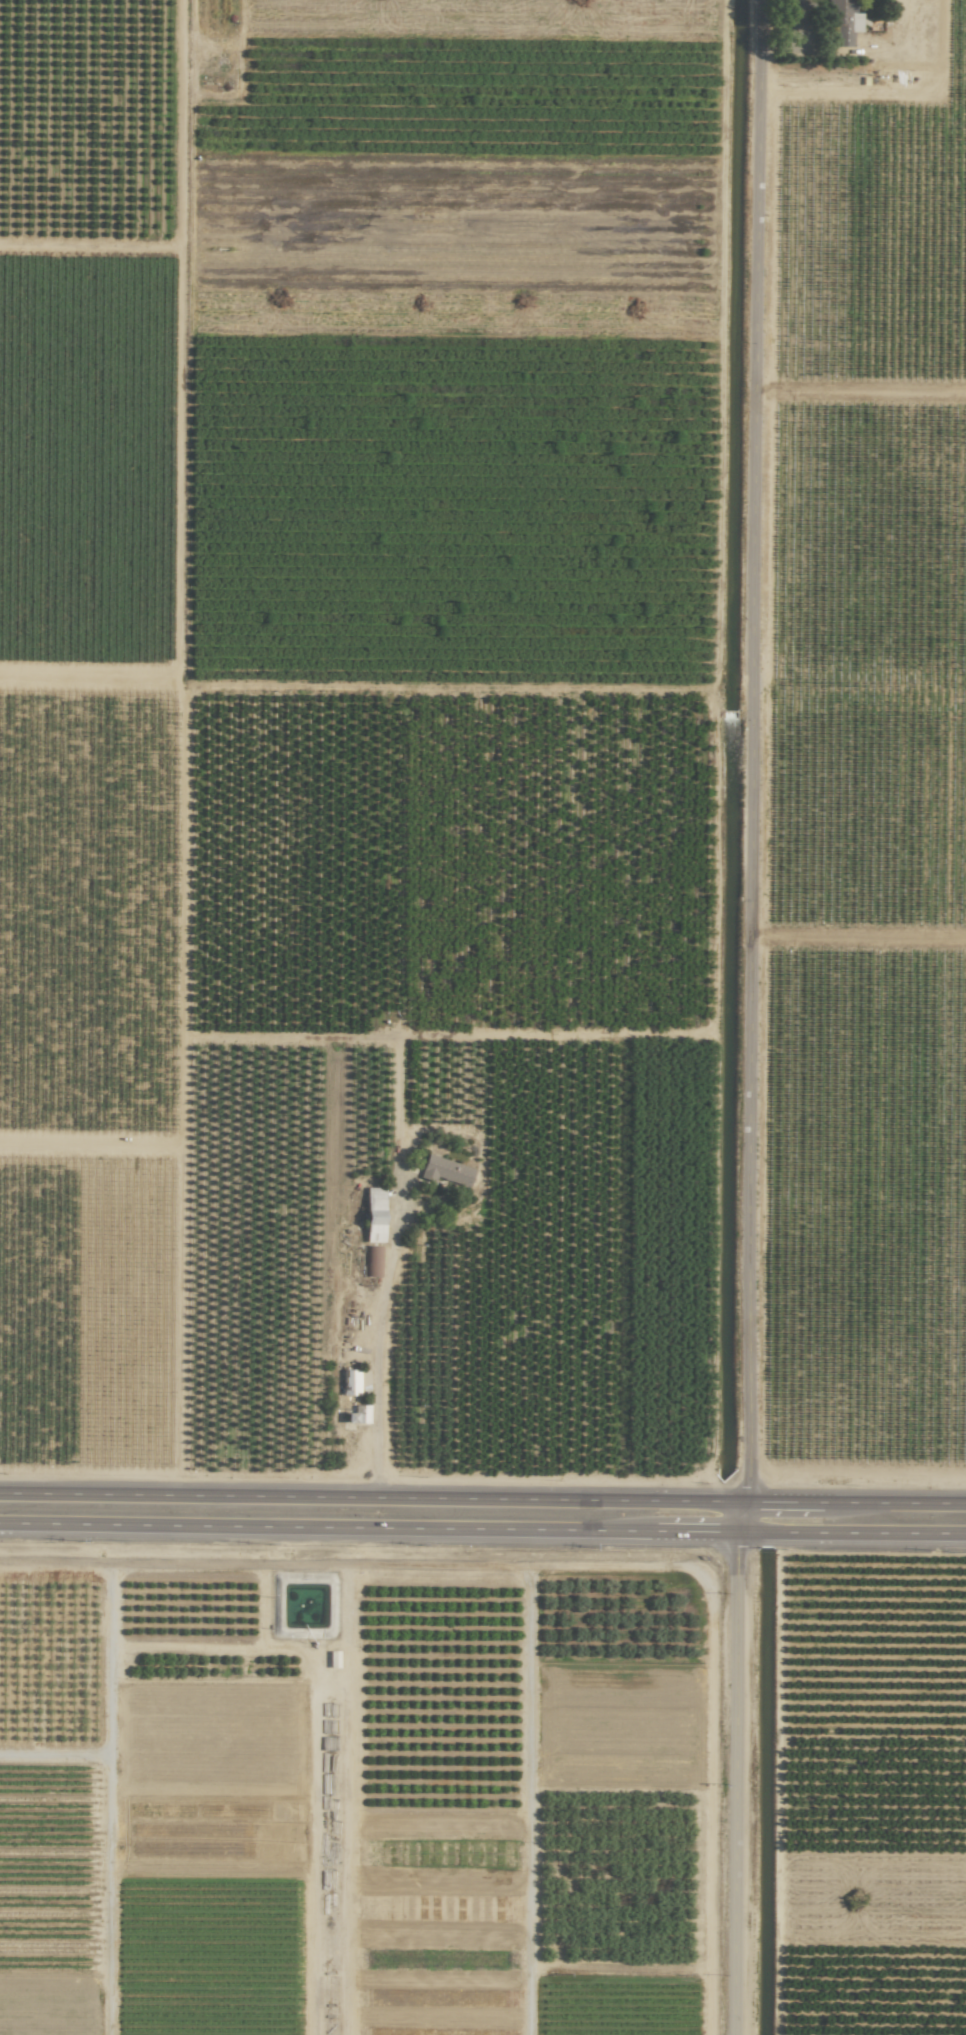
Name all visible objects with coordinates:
building: (842, 21)
road: (747, 1017)
building: (446, 1171)
building: (374, 1215)
building: (372, 1261)
road: (376, 1349)
building: (350, 1382)
building: (358, 1415)
road: (371, 1497)
road: (854, 1502)
road: (369, 1527)
road: (852, 1532)
airport runway: (327, 1861)

